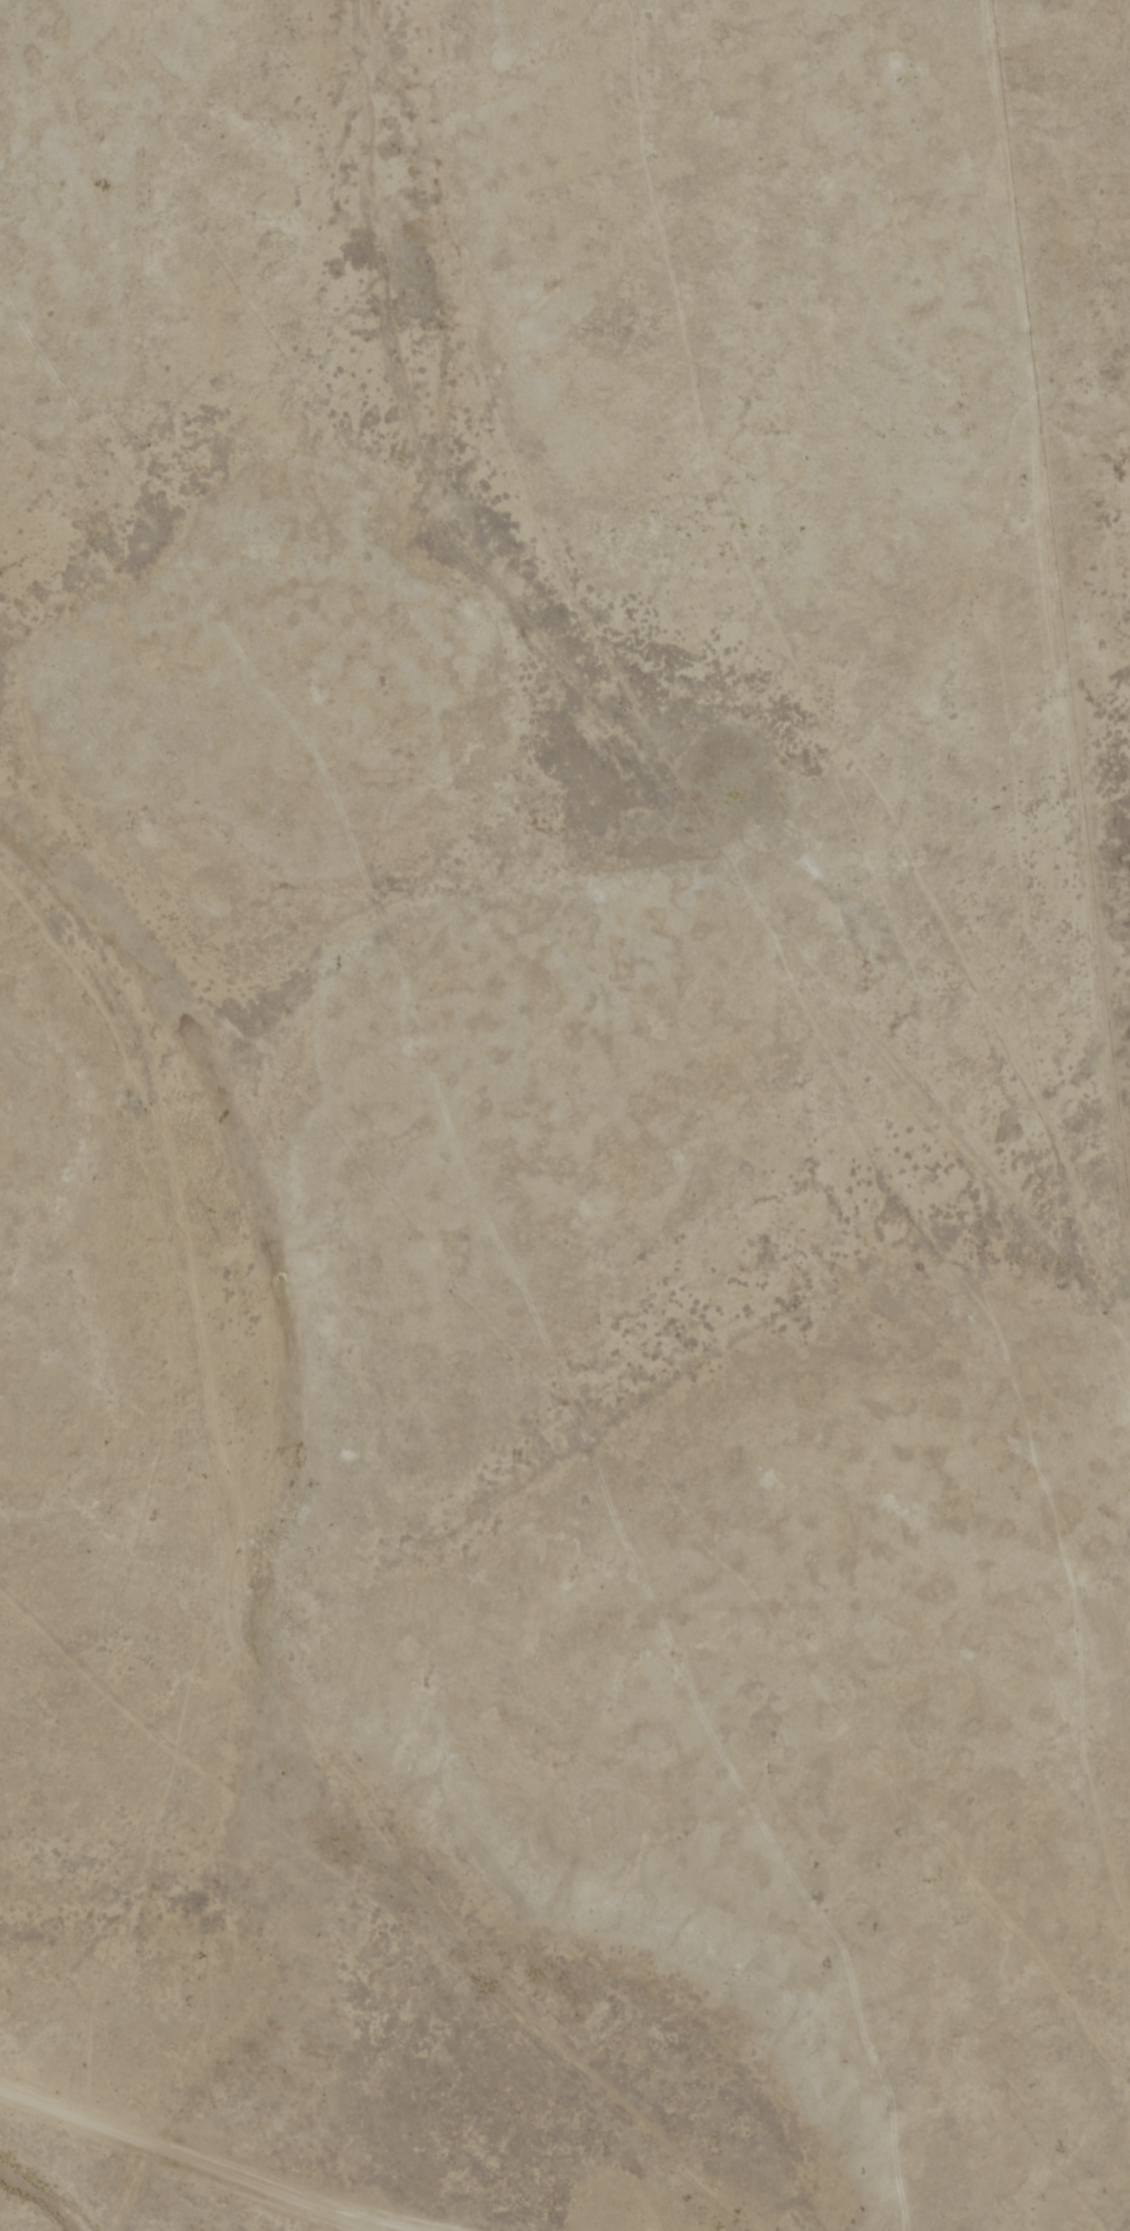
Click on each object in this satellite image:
road: (197, 2169)
river: (49, 2192)

